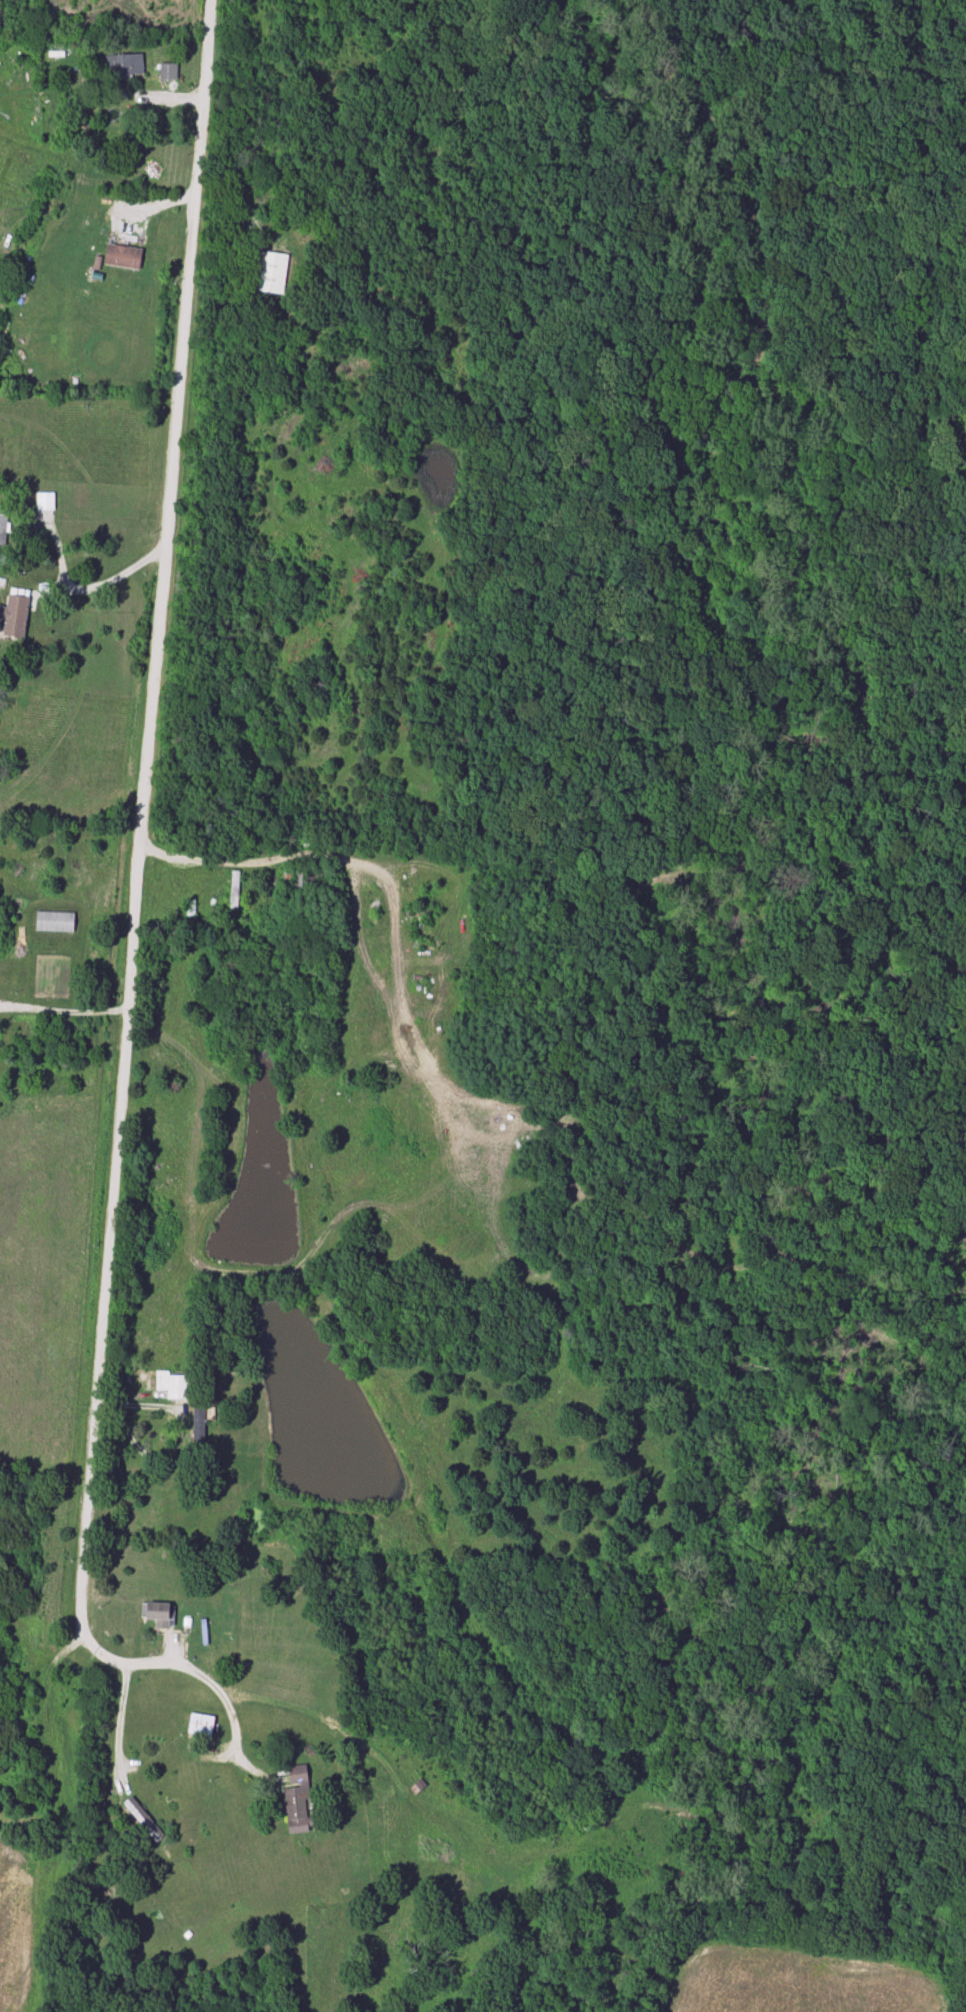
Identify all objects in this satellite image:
building: (124, 66)
building: (168, 72)
building: (122, 257)
building: (271, 274)
building: (45, 500)
building: (3, 527)
road: (117, 577)
building: (15, 618)
road: (136, 870)
building: (290, 888)
building: (234, 890)
building: (190, 908)
building: (54, 923)
road: (62, 1008)
building: (173, 1386)
building: (197, 1423)
road: (180, 1437)
building: (158, 1614)
road: (223, 1699)
road: (112, 1723)
building: (200, 1725)
building: (296, 1802)
building: (143, 1820)

